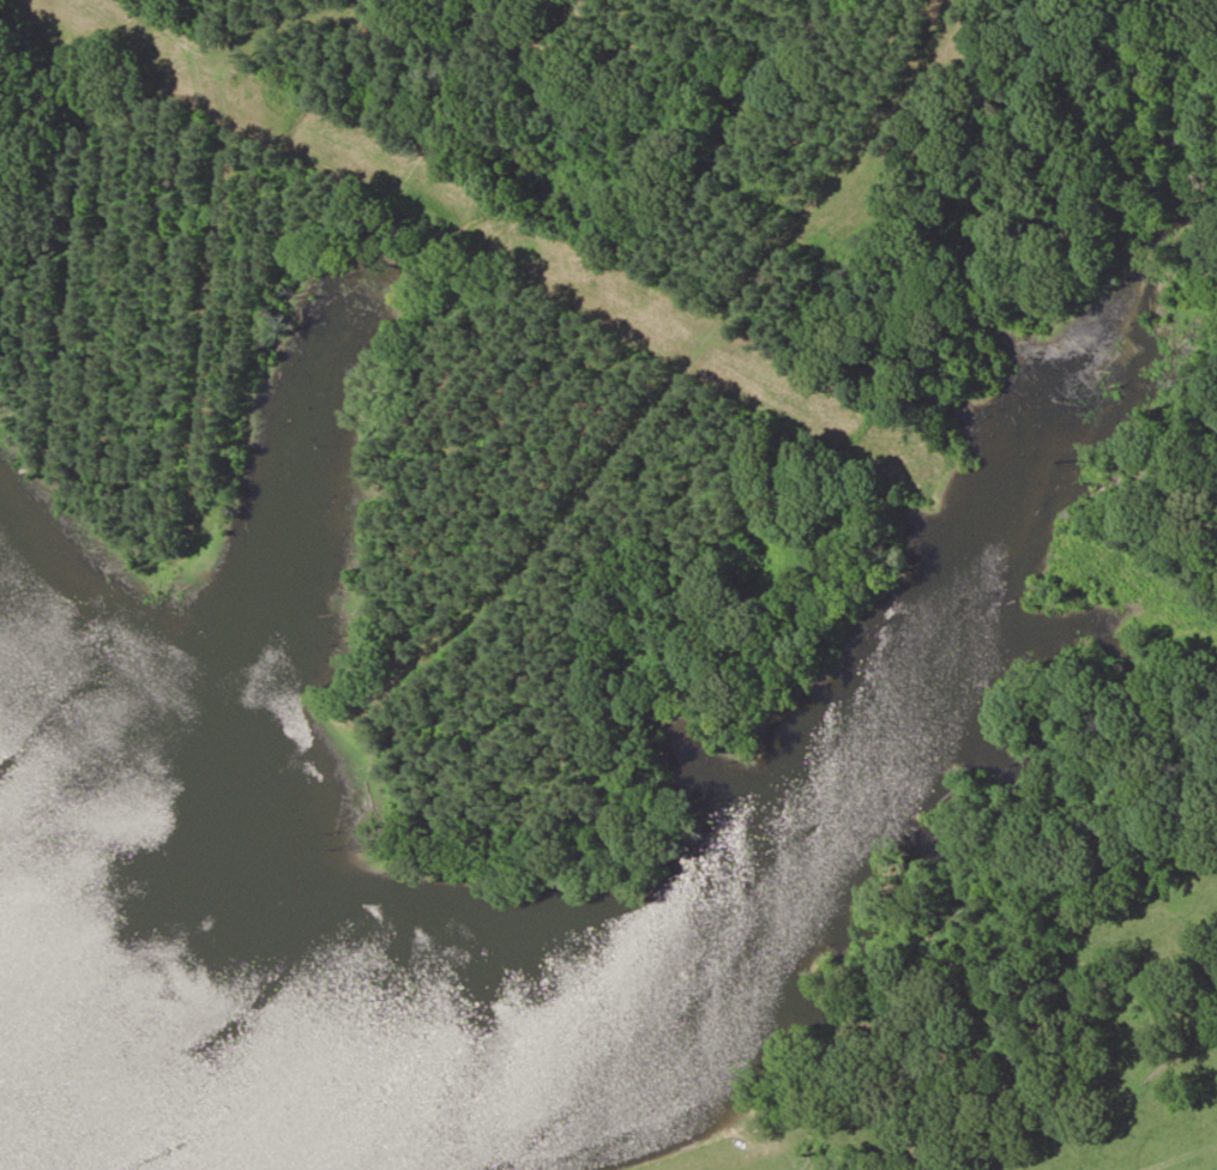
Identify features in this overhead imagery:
road: (1029, 47)

